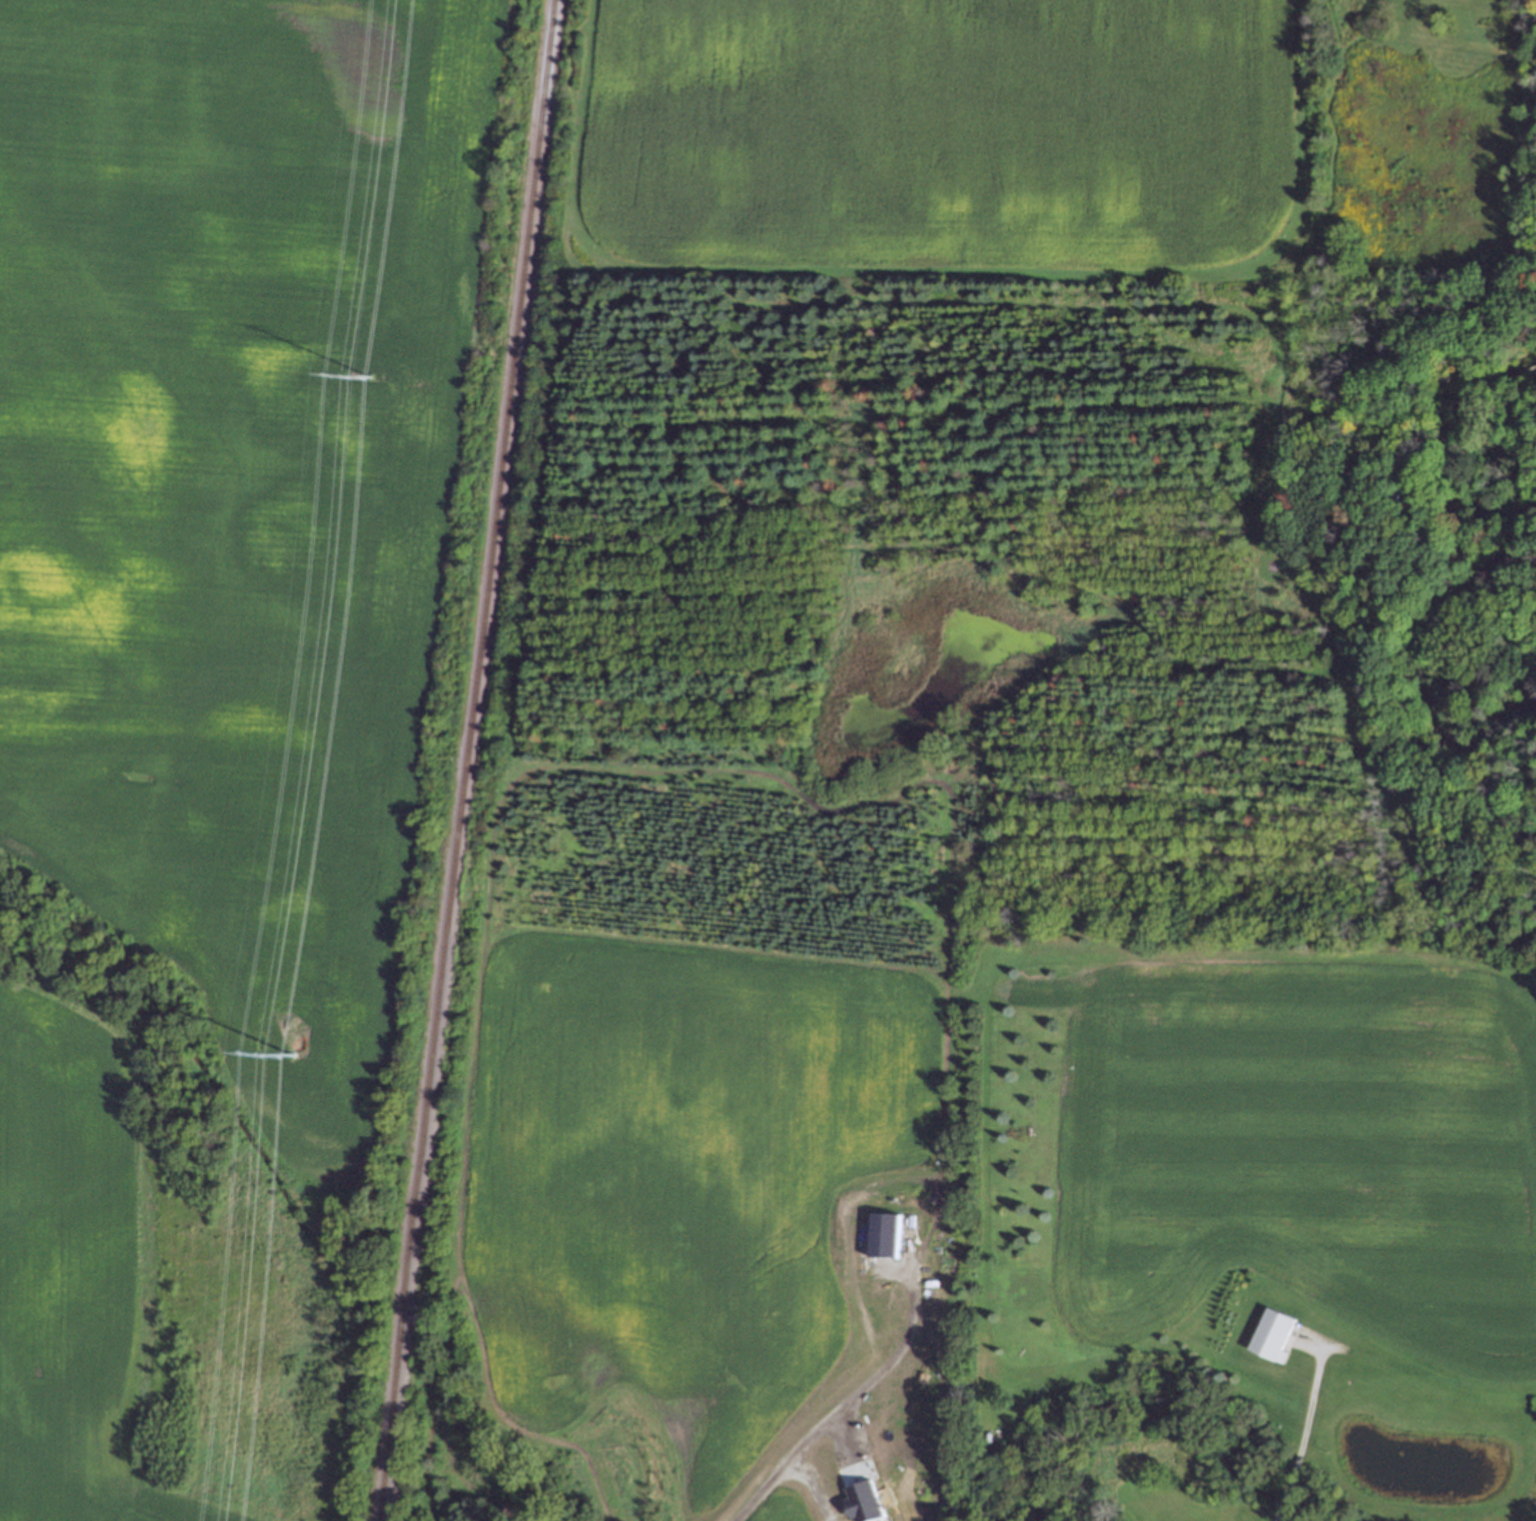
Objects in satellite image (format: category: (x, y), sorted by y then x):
road: (1484, 44)
crop: (943, 137)
power tower: (369, 376)
park: (1419, 476)
railway: (463, 760)
power tower: (291, 1044)
building: (883, 1235)
building: (1272, 1334)
road: (832, 1416)
road: (1296, 1425)
road: (809, 1483)
building: (863, 1501)

